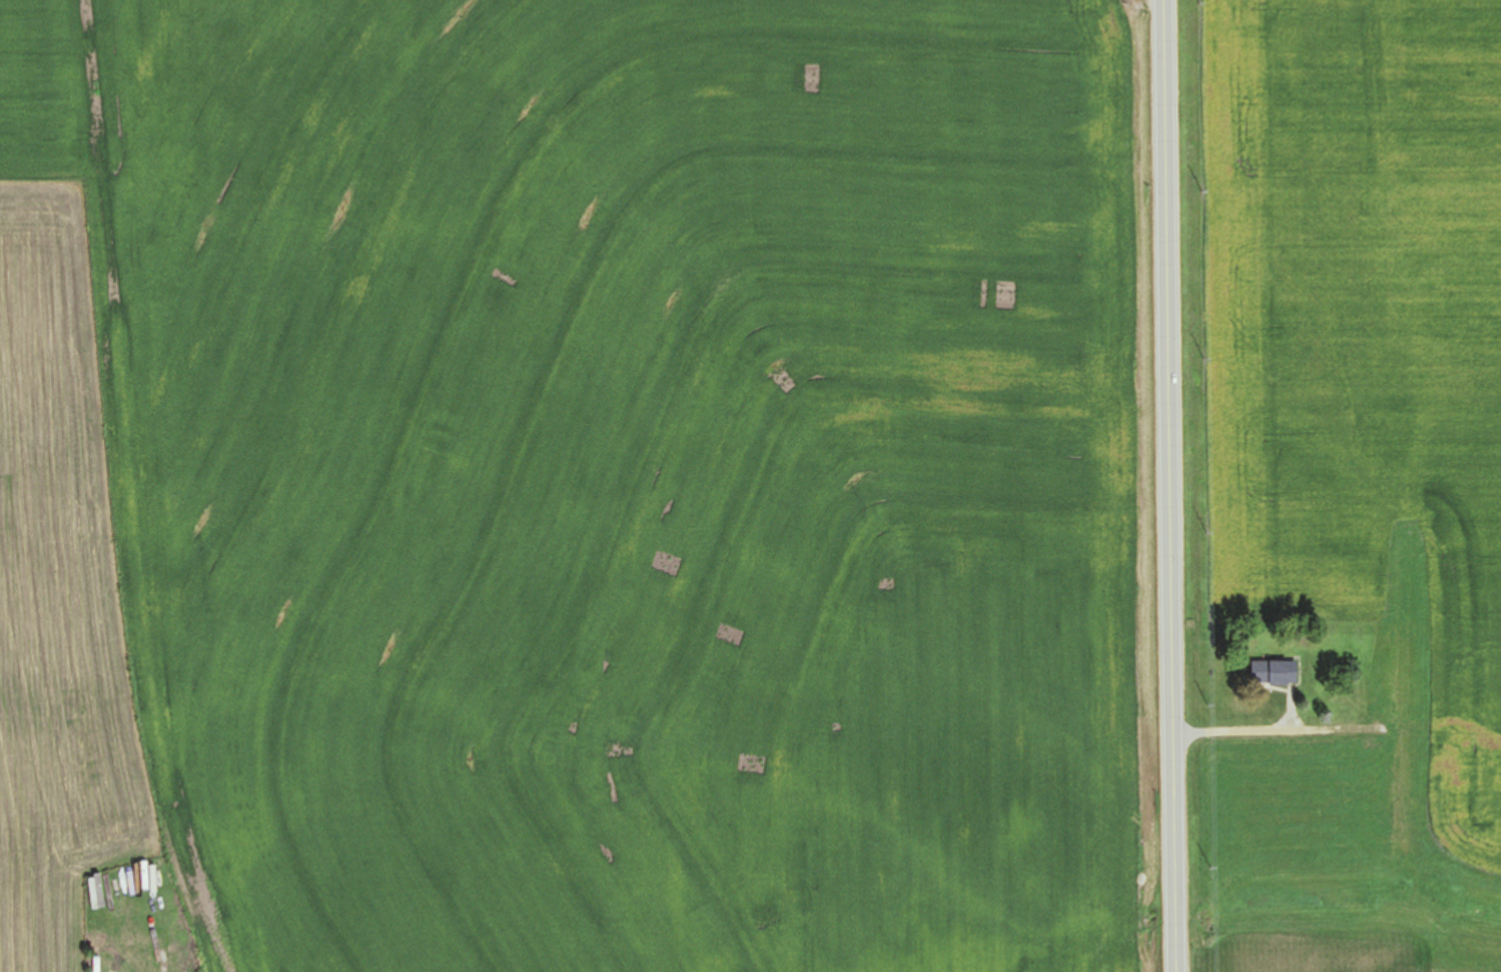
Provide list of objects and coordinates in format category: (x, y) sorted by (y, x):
road: (1167, 298)
building: (1273, 672)
road: (1173, 784)
building: (1471, 815)

